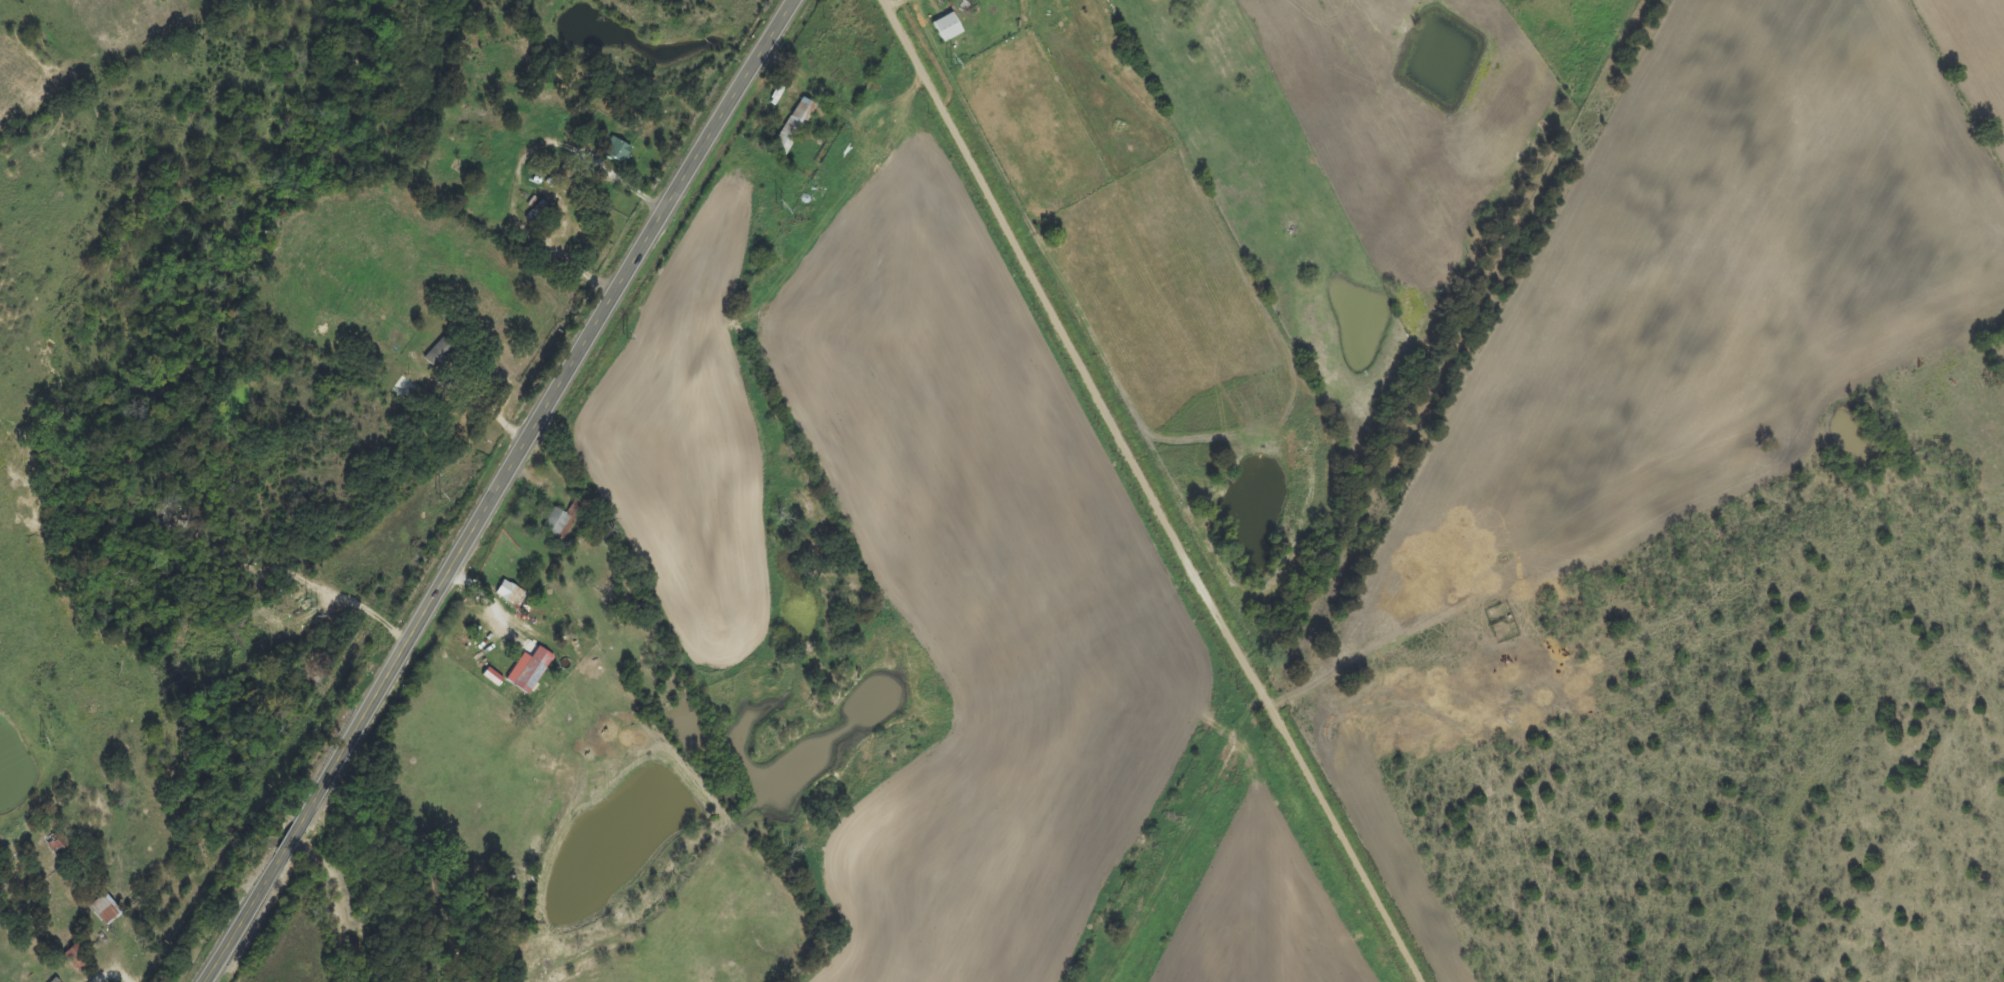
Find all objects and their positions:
building: (948, 28)
power tower: (947, 62)
building: (792, 130)
building: (618, 151)
power tower: (777, 206)
power tower: (623, 336)
building: (441, 353)
road: (501, 491)
railway: (1371, 491)
road: (1155, 492)
power tower: (436, 496)
building: (563, 521)
building: (512, 595)
power tower: (312, 609)
building: (530, 671)
power tower: (39, 739)
building: (105, 909)
building: (78, 958)
building: (53, 980)

